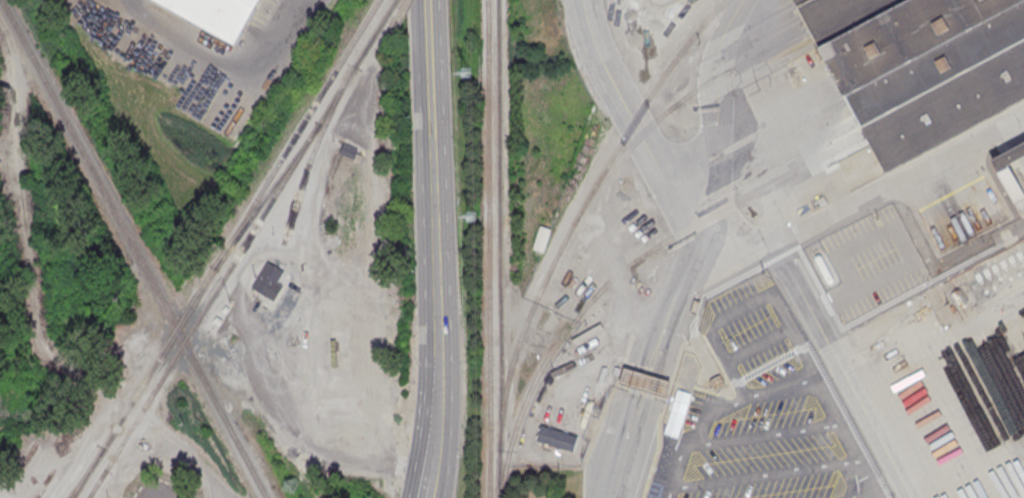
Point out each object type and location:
power substation: (658, 0)
railway: (394, 2)
building: (216, 13)
road: (220, 59)
building: (919, 66)
road: (433, 67)
power tower: (465, 74)
railway: (673, 106)
road: (716, 117)
road: (635, 122)
building: (349, 150)
railway: (313, 152)
building: (1010, 174)
railway: (266, 196)
road: (950, 197)
road: (866, 199)
railway: (581, 210)
power tower: (471, 215)
building: (542, 239)
road: (437, 246)
railway: (134, 248)
railway: (225, 248)
railway: (488, 249)
railway: (499, 249)
road: (905, 249)
railway: (241, 251)
parking lot: (873, 262)
railway: (628, 266)
road: (687, 268)
building: (269, 280)
road: (30, 308)
road: (780, 311)
road: (938, 342)
road: (758, 346)
road: (842, 372)
building: (643, 381)
road: (629, 394)
road: (653, 397)
road: (438, 398)
road: (719, 412)
parking lot: (765, 413)
road: (765, 434)
road: (299, 435)
building: (557, 439)
road: (852, 461)
road: (435, 468)
railway: (86, 473)
road: (758, 476)
road: (869, 479)
road: (852, 481)
railway: (97, 483)
parking lot: (193, 495)

